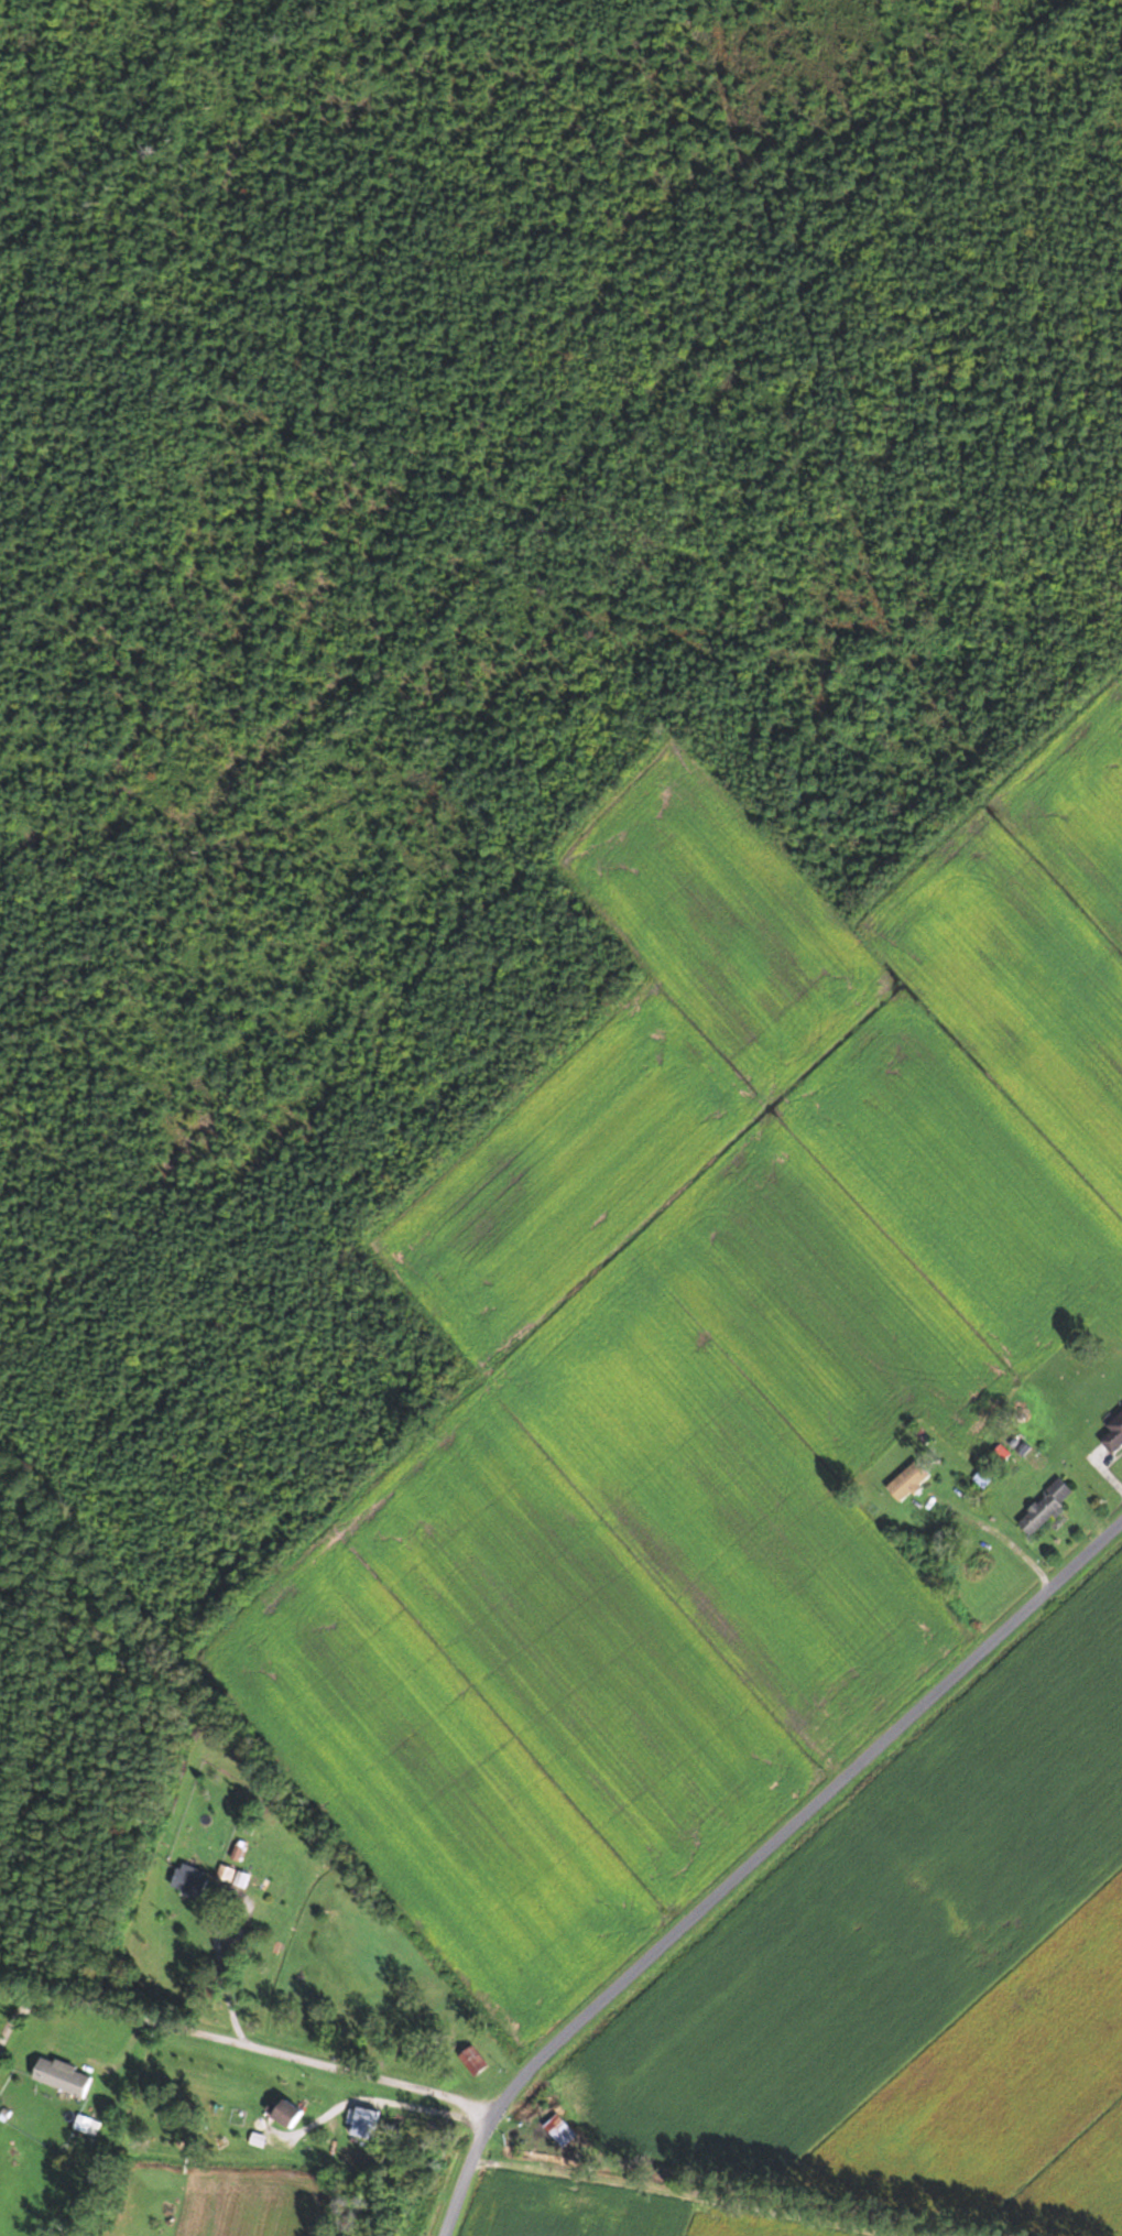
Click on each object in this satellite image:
building: (1113, 1433)
building: (908, 1479)
building: (1045, 1506)
road: (1011, 1542)
road: (759, 1860)
building: (188, 1881)
road: (213, 1917)
road: (242, 2045)
building: (472, 2060)
building: (62, 2075)
building: (285, 2110)
building: (364, 2123)
building: (558, 2129)

